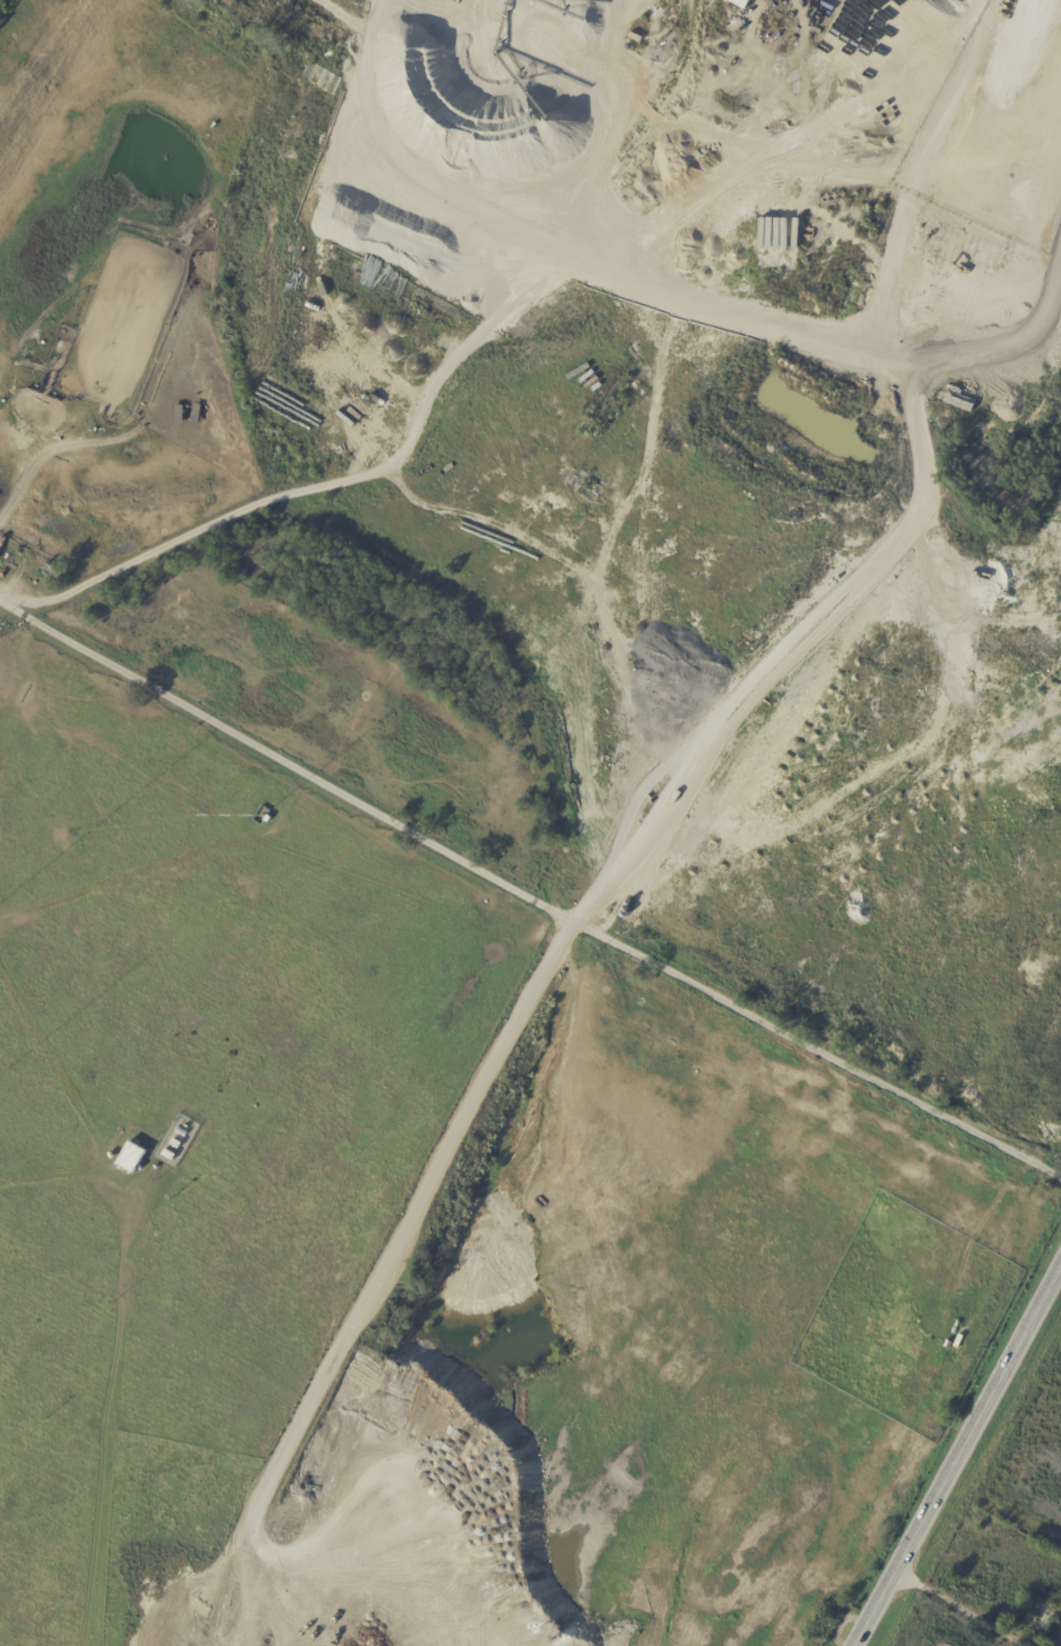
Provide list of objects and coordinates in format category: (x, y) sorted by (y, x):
building: (741, 2)
building: (269, 819)
road: (530, 884)
building: (188, 1126)
building: (182, 1130)
building: (178, 1142)
building: (171, 1154)
building: (132, 1157)
road: (382, 1279)
road: (961, 1454)
building: (829, 1622)

